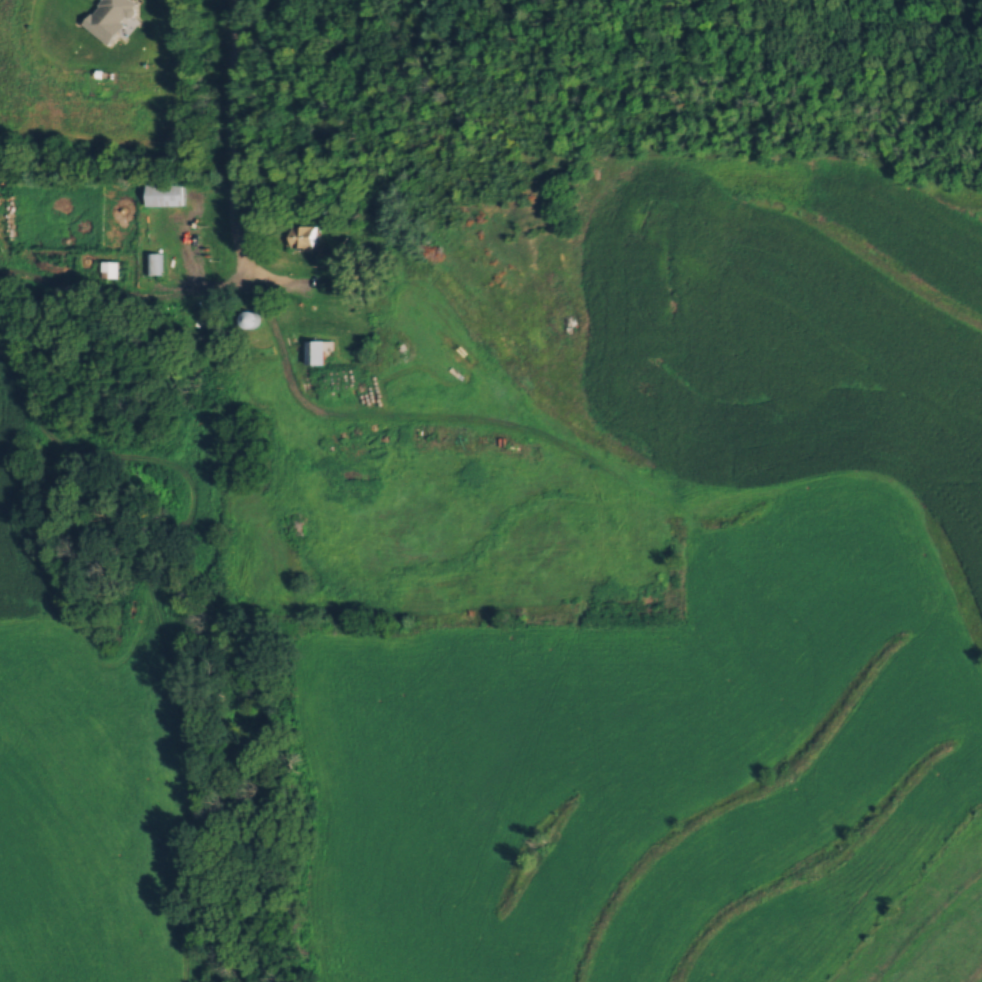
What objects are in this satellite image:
building: (910, 0)
road: (952, 19)
building: (972, 58)
road: (229, 116)
building: (165, 192)
building: (300, 235)
building: (151, 261)
building: (109, 266)
building: (251, 317)
building: (317, 349)

